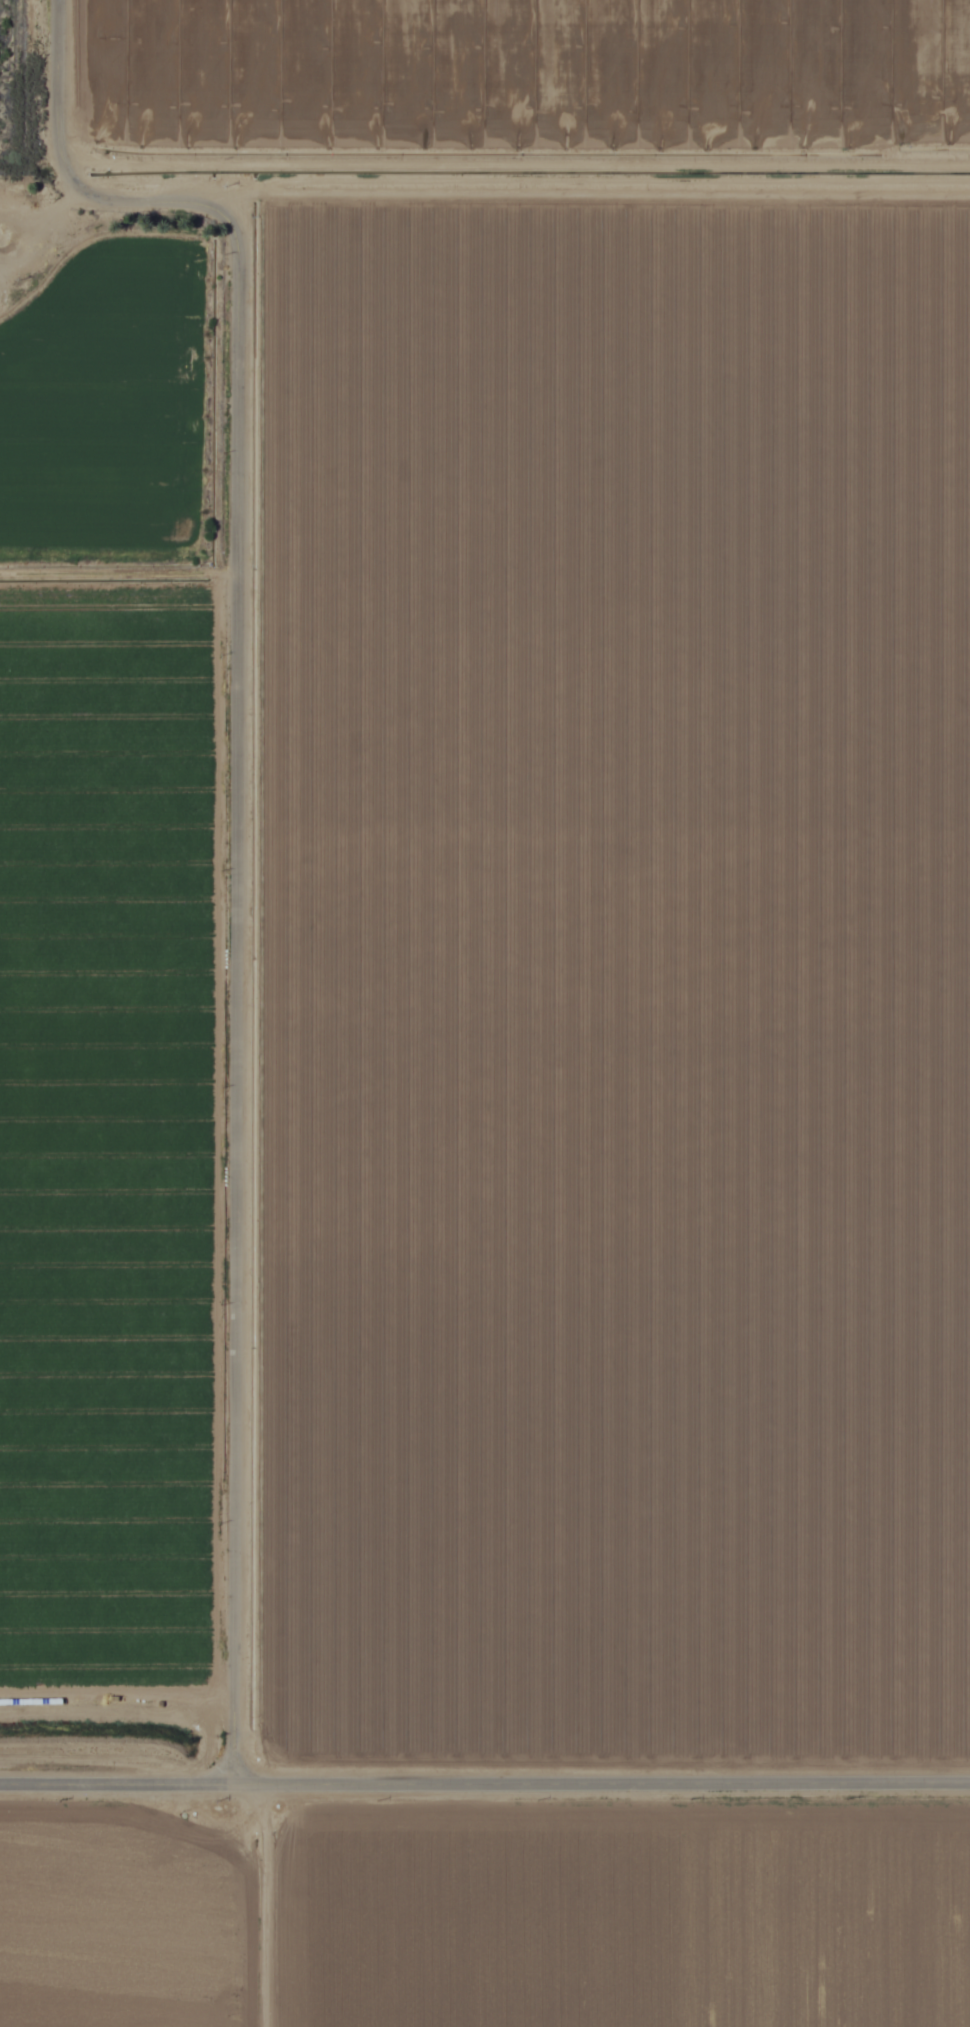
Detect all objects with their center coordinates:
road: (239, 824)
road: (484, 1779)

